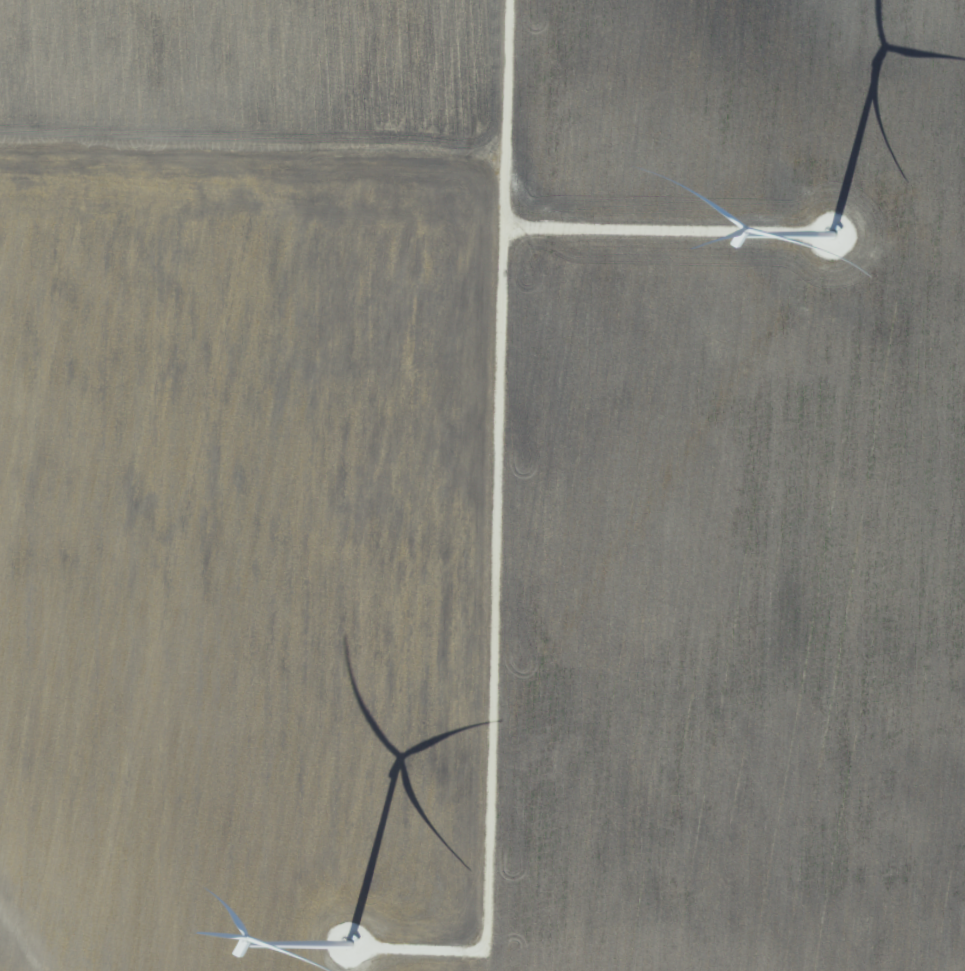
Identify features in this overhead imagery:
wind turbine: (833, 225)
wind turbine: (347, 950)

